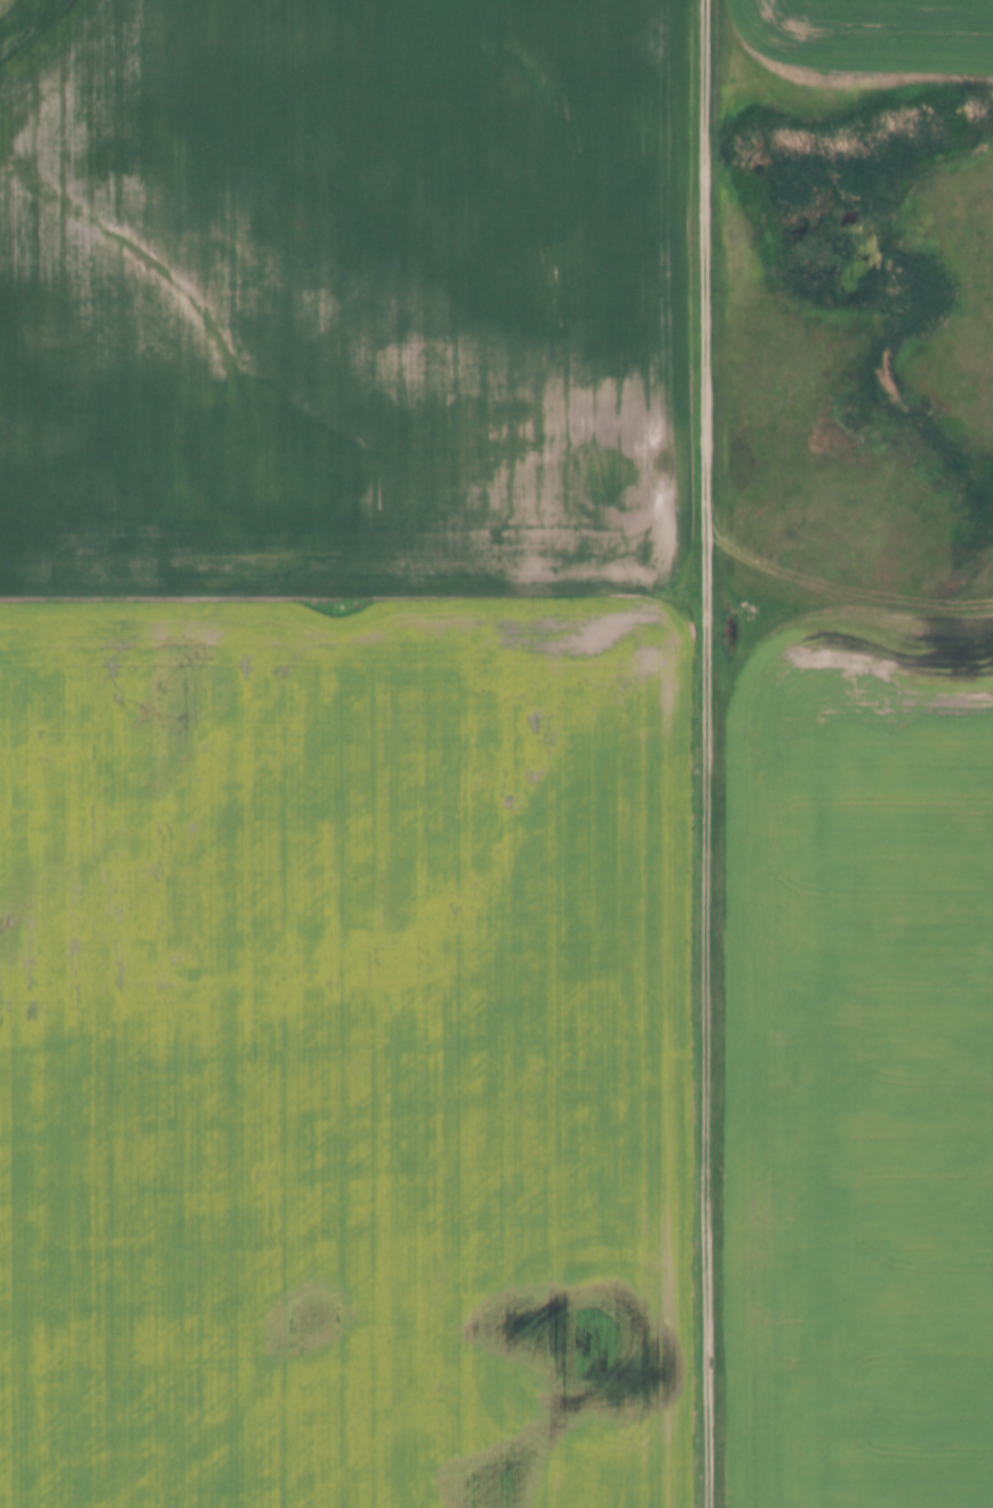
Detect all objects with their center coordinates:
road: (711, 753)

